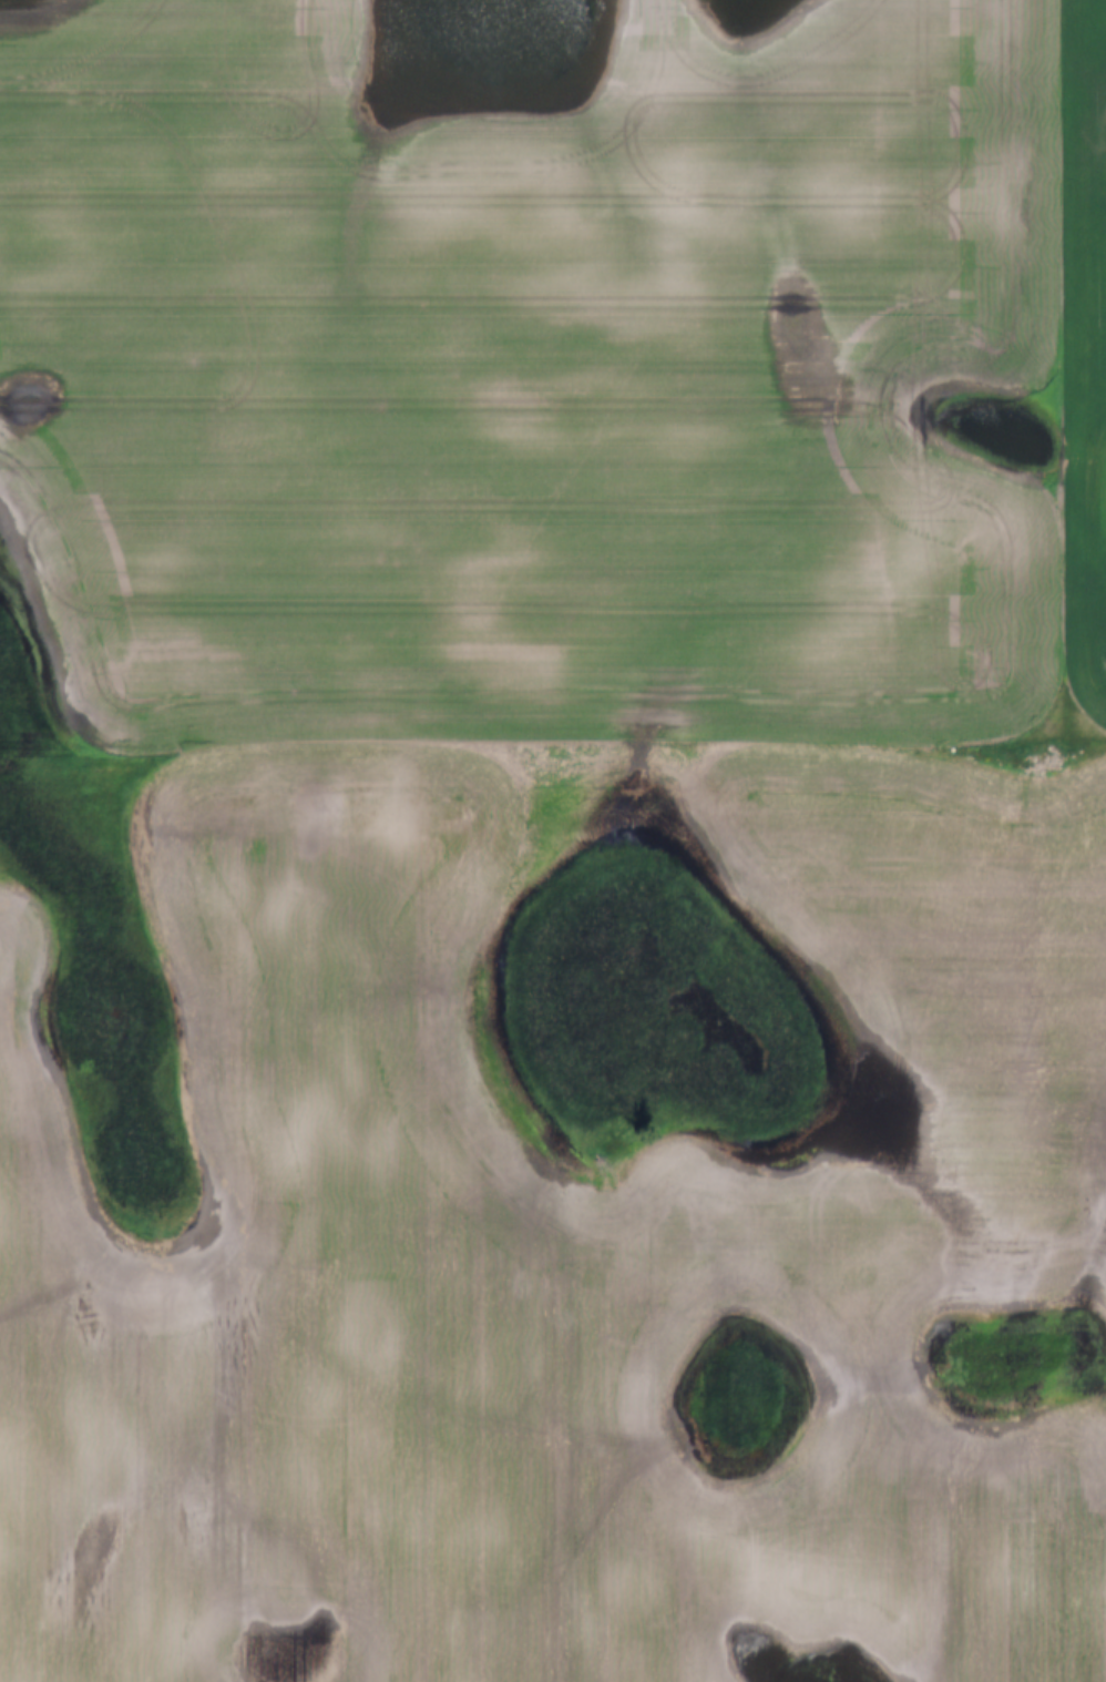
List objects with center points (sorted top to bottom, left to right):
road: (1055, 840)

